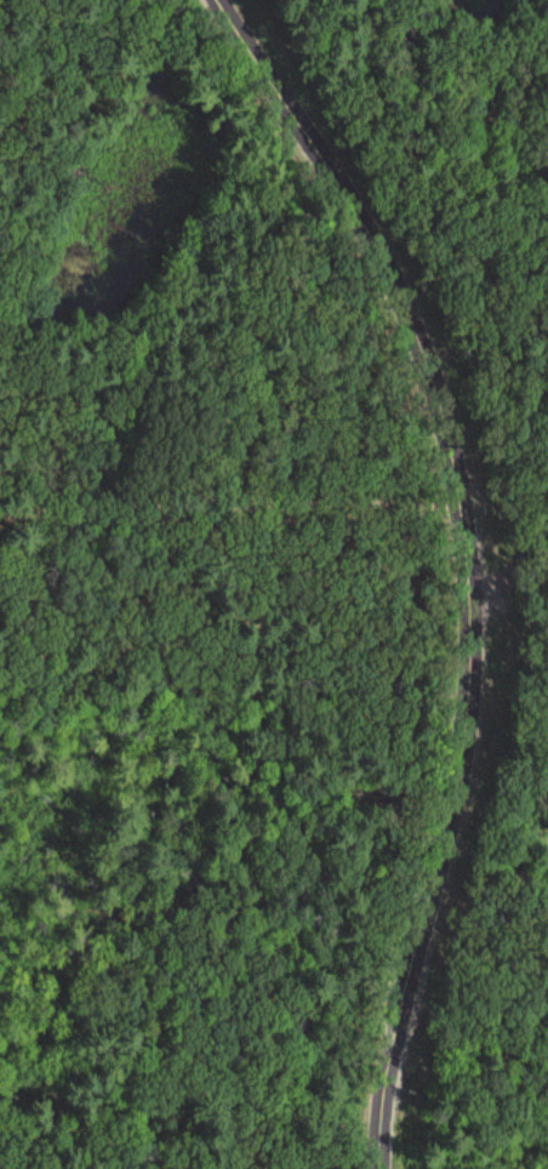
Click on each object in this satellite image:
road: (190, 21)
road: (232, 528)
road: (509, 551)
road: (470, 564)

